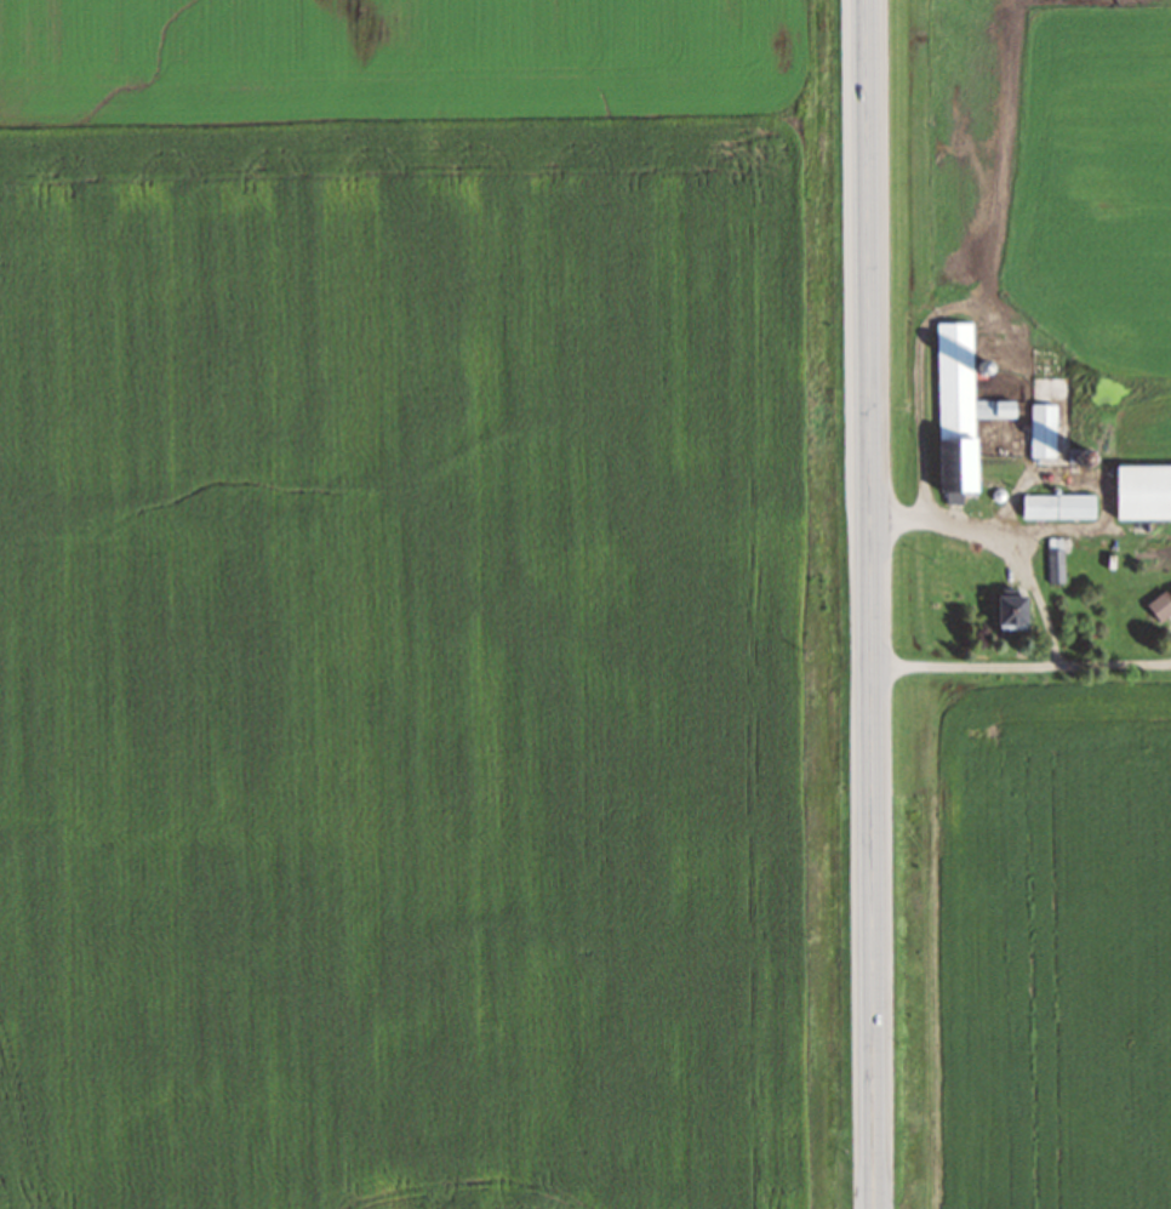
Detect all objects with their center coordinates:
building: (959, 412)
building: (1043, 430)
building: (1143, 492)
building: (1057, 507)
building: (1056, 560)
road: (869, 604)
building: (1160, 605)
building: (1010, 609)

